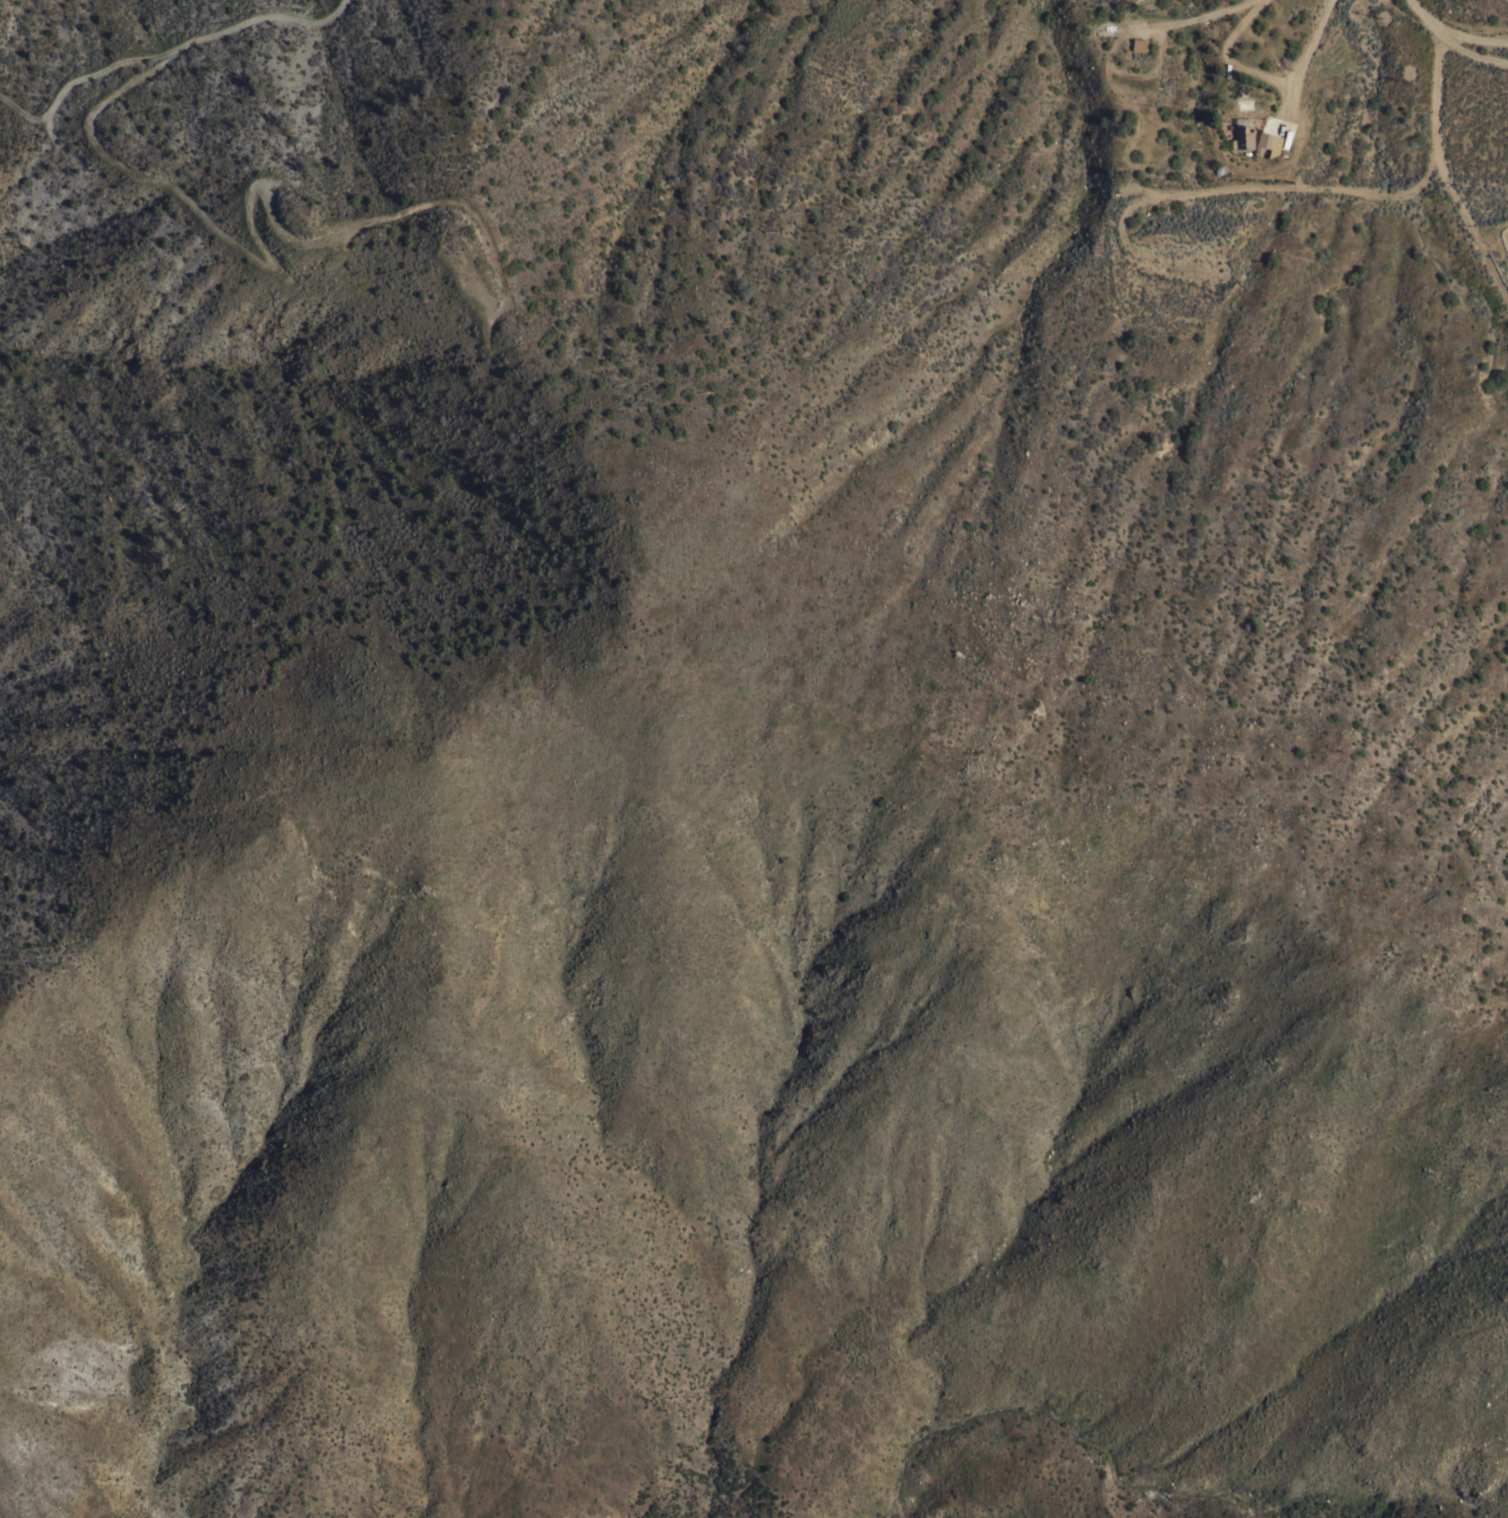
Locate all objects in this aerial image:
road: (1210, 14)
road: (1453, 33)
building: (1138, 44)
road: (1119, 69)
road: (1270, 73)
road: (1293, 97)
building: (1243, 136)
road: (1434, 137)
building: (1268, 142)
road: (1506, 293)

